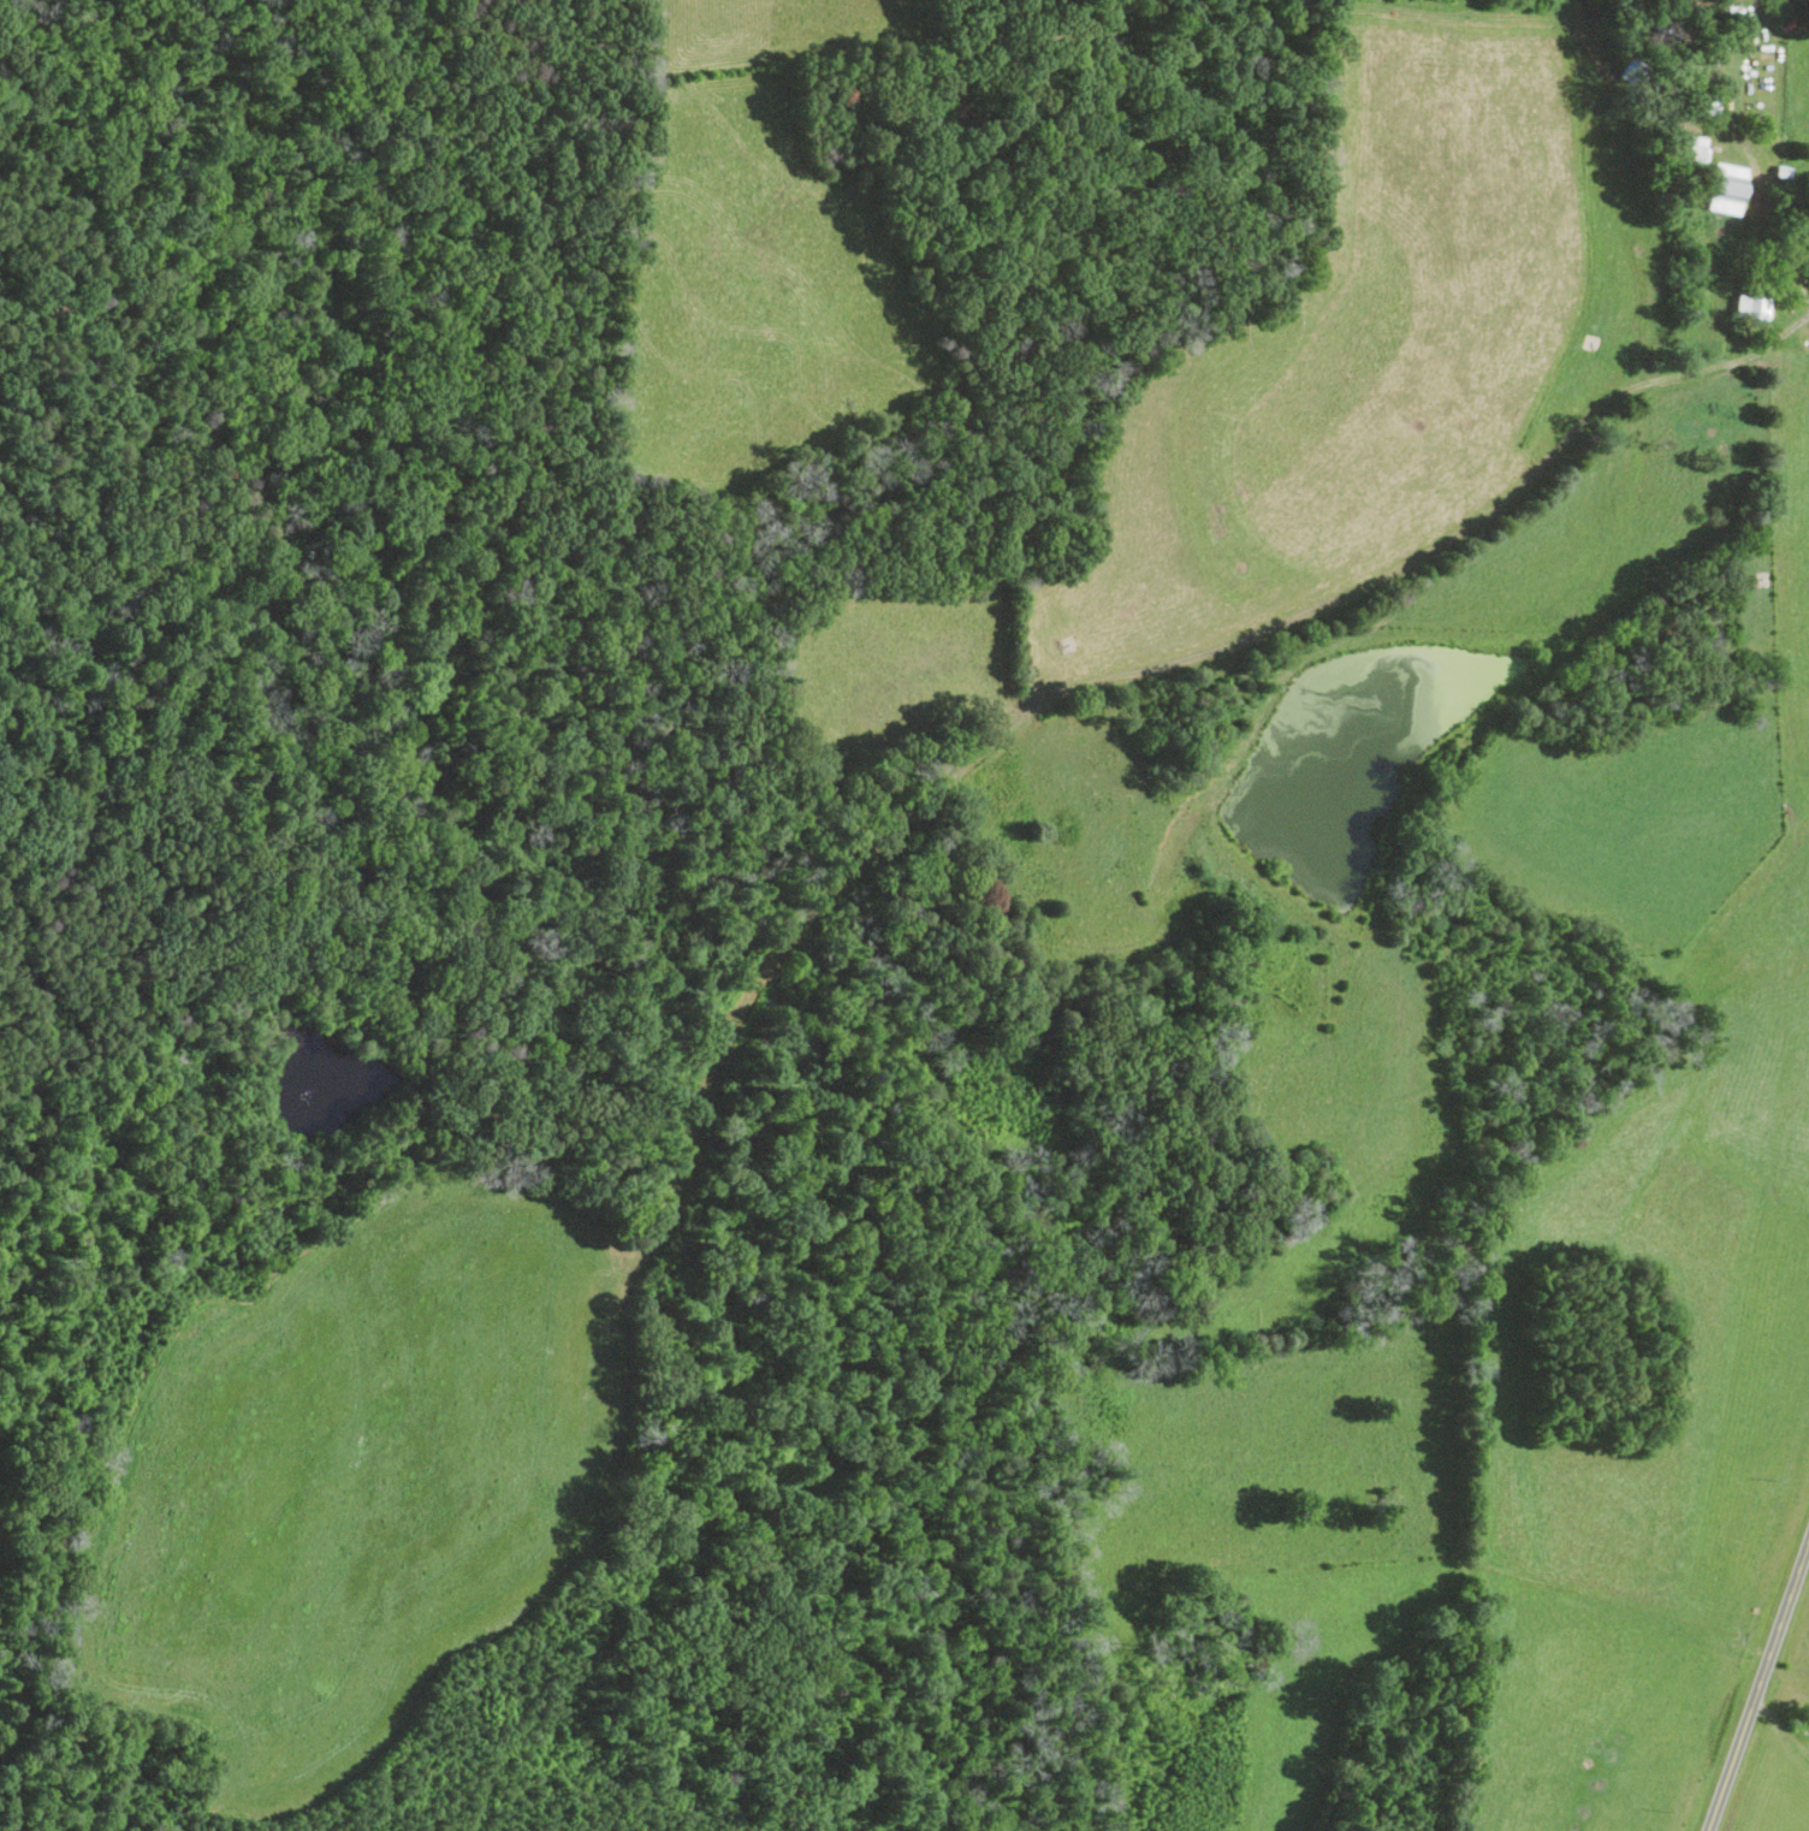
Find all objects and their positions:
road: (1780, 14)
road: (1746, 149)
building: (1727, 188)
building: (1752, 307)
road: (1773, 340)
road: (1760, 1687)

